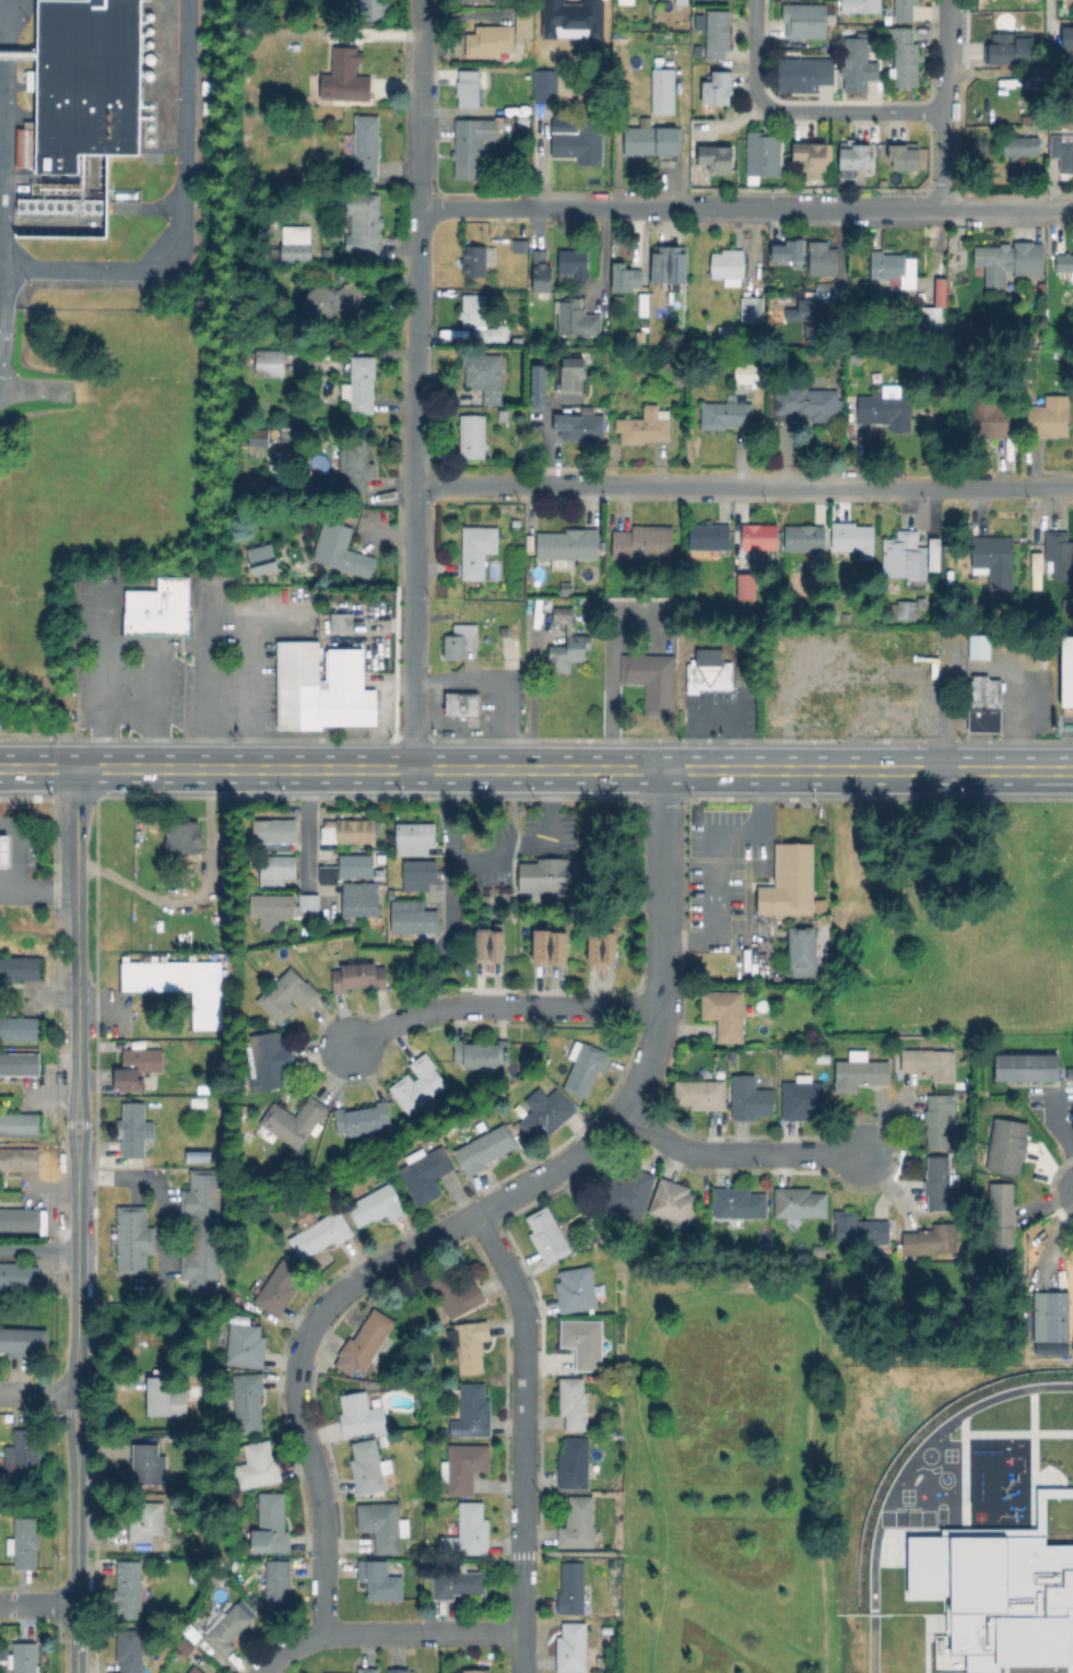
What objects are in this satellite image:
building: (473, 0)
building: (683, 1)
building: (627, 2)
building: (862, 5)
building: (374, 9)
building: (906, 10)
building: (185, 21)
building: (524, 21)
building: (806, 21)
building: (716, 34)
building: (490, 40)
building: (1069, 43)
building: (310, 46)
building: (1010, 49)
road: (753, 51)
building: (906, 57)
building: (344, 61)
building: (512, 61)
building: (859, 68)
building: (804, 75)
building: (1037, 76)
building: (28, 82)
building: (85, 83)
building: (546, 84)
building: (469, 87)
building: (663, 87)
building: (718, 89)
road: (943, 103)
building: (205, 104)
road: (850, 110)
building: (522, 120)
building: (653, 141)
building: (580, 144)
building: (366, 146)
building: (1021, 146)
building: (472, 148)
building: (1062, 152)
building: (764, 153)
building: (854, 155)
building: (810, 156)
building: (906, 156)
building: (717, 157)
road: (1, 172)
building: (63, 204)
road: (554, 207)
road: (810, 207)
road: (1002, 207)
road: (181, 216)
building: (365, 225)
building: (334, 231)
building: (790, 248)
building: (296, 250)
building: (272, 251)
building: (822, 259)
building: (474, 261)
building: (1009, 262)
building: (1064, 262)
building: (574, 264)
building: (670, 264)
building: (728, 264)
building: (894, 267)
building: (539, 272)
building: (624, 275)
building: (933, 288)
building: (334, 298)
building: (751, 309)
building: (809, 316)
building: (481, 319)
building: (578, 319)
building: (932, 322)
building: (710, 325)
building: (1039, 339)
building: (322, 354)
building: (1068, 354)
building: (271, 363)
building: (747, 374)
building: (485, 376)
building: (573, 376)
building: (680, 380)
road: (417, 384)
building: (361, 385)
building: (539, 388)
building: (806, 401)
building: (887, 412)
building: (850, 413)
building: (726, 414)
building: (992, 416)
building: (1050, 416)
building: (646, 425)
building: (580, 426)
building: (258, 436)
building: (472, 436)
road: (542, 451)
building: (357, 466)
road: (744, 484)
building: (709, 537)
building: (757, 537)
building: (852, 537)
building: (805, 539)
building: (644, 543)
building: (568, 545)
building: (341, 550)
building: (477, 550)
building: (931, 553)
building: (1059, 555)
building: (905, 557)
building: (263, 559)
building: (993, 561)
building: (1034, 580)
building: (747, 587)
building: (1068, 604)
building: (161, 608)
building: (905, 609)
building: (980, 615)
road: (229, 617)
building: (345, 623)
building: (460, 641)
building: (567, 644)
building: (977, 646)
road: (205, 655)
building: (892, 671)
building: (1068, 671)
building: (870, 673)
building: (709, 676)
road: (103, 680)
building: (650, 681)
building: (319, 687)
road: (491, 690)
road: (251, 693)
building: (781, 694)
building: (812, 696)
road: (616, 703)
building: (982, 704)
building: (462, 705)
road: (153, 706)
building: (903, 712)
road: (331, 768)
road: (868, 769)
road: (304, 828)
building: (271, 829)
building: (349, 832)
building: (184, 837)
building: (415, 837)
road: (75, 838)
road: (449, 838)
building: (3, 851)
road: (714, 857)
building: (352, 865)
building: (273, 869)
building: (326, 874)
building: (418, 875)
building: (551, 877)
road: (10, 879)
road: (20, 881)
building: (791, 881)
road: (197, 894)
building: (361, 900)
building: (275, 906)
building: (823, 906)
building: (413, 918)
road: (663, 940)
building: (491, 945)
building: (551, 947)
building: (602, 947)
building: (802, 951)
building: (20, 967)
building: (359, 976)
building: (777, 979)
building: (178, 983)
building: (287, 994)
road: (498, 1006)
road: (103, 1010)
building: (726, 1013)
building: (20, 1028)
building: (889, 1041)
building: (481, 1055)
building: (270, 1060)
building: (930, 1062)
building: (20, 1063)
building: (1024, 1065)
building: (587, 1067)
building: (860, 1072)
building: (1068, 1073)
building: (720, 1074)
building: (126, 1080)
building: (418, 1083)
building: (204, 1088)
building: (701, 1094)
building: (751, 1097)
building: (803, 1098)
building: (225, 1105)
building: (545, 1112)
building: (364, 1118)
building: (939, 1120)
building: (295, 1121)
building: (20, 1124)
building: (135, 1130)
road: (1054, 1138)
building: (1007, 1145)
building: (485, 1148)
building: (222, 1150)
road: (736, 1153)
building: (198, 1157)
building: (20, 1158)
building: (426, 1173)
building: (939, 1185)
road: (157, 1189)
building: (628, 1194)
building: (674, 1201)
building: (740, 1202)
building: (800, 1203)
building: (379, 1204)
road: (477, 1211)
building: (1001, 1216)
building: (20, 1218)
building: (200, 1222)
building: (858, 1228)
building: (321, 1234)
building: (547, 1236)
building: (131, 1239)
building: (931, 1239)
road: (38, 1250)
building: (817, 1251)
building: (17, 1275)
building: (279, 1287)
building: (577, 1289)
road: (76, 1291)
road: (728, 1291)
building: (455, 1293)
building: (1048, 1322)
building: (23, 1341)
building: (365, 1341)
building: (583, 1342)
building: (470, 1344)
building: (246, 1346)
road: (521, 1378)
road: (38, 1393)
building: (165, 1397)
building: (248, 1402)
building: (575, 1403)
building: (473, 1412)
building: (361, 1415)
rooftop solar panel: (472, 1428)
rooftop solar panel: (459, 1432)
building: (444, 1433)
park: (765, 1438)
building: (384, 1440)
building: (22, 1454)
building: (146, 1463)
road: (314, 1463)
building: (575, 1463)
building: (259, 1465)
building: (369, 1466)
building: (464, 1466)
building: (146, 1520)
building: (578, 1522)
building: (272, 1524)
building: (382, 1524)
building: (467, 1531)
building: (24, 1542)
road: (686, 1576)
building: (380, 1580)
building: (458, 1583)
building: (278, 1584)
building: (573, 1588)
building: (130, 1594)
building: (1009, 1595)
road: (37, 1604)
road: (518, 1613)
road: (379, 1627)
building: (606, 1627)
building: (225, 1630)
building: (573, 1648)
building: (130, 1651)
building: (24, 1658)
building: (194, 1670)
building: (368, 1670)
building: (399, 1670)
building: (476, 1671)

